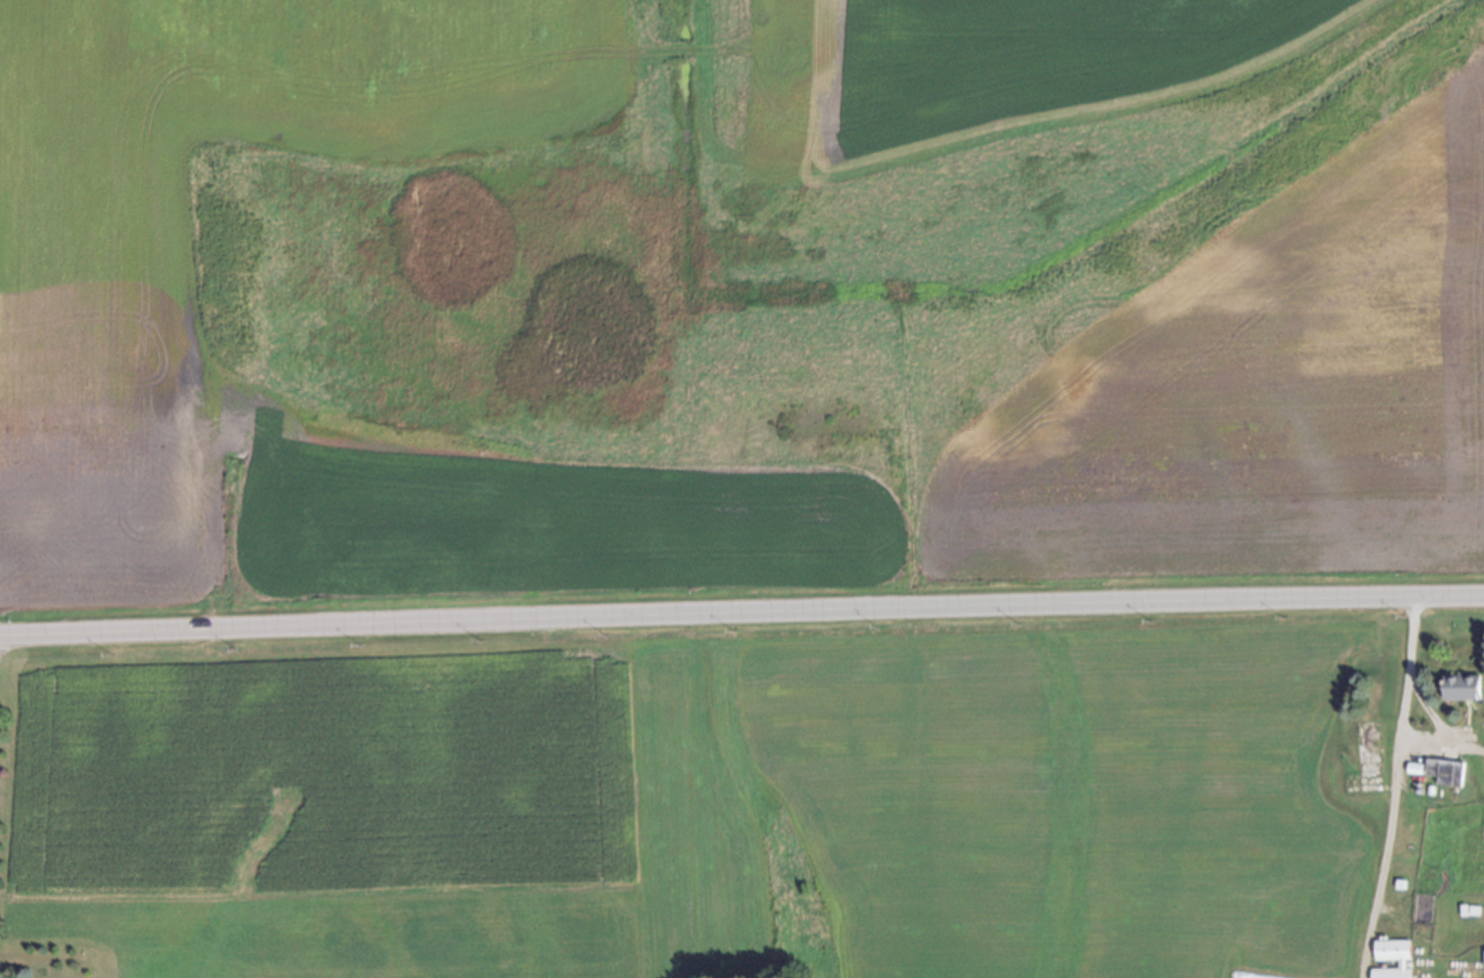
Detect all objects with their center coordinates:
road: (741, 611)
building: (1459, 686)
road: (1428, 710)
road: (1440, 743)
building: (1364, 756)
building: (1415, 767)
building: (1441, 769)
building: (1410, 777)
road: (1391, 788)
building: (1357, 807)
building: (1460, 906)
building: (1470, 906)
building: (1483, 957)
building: (1399, 963)

